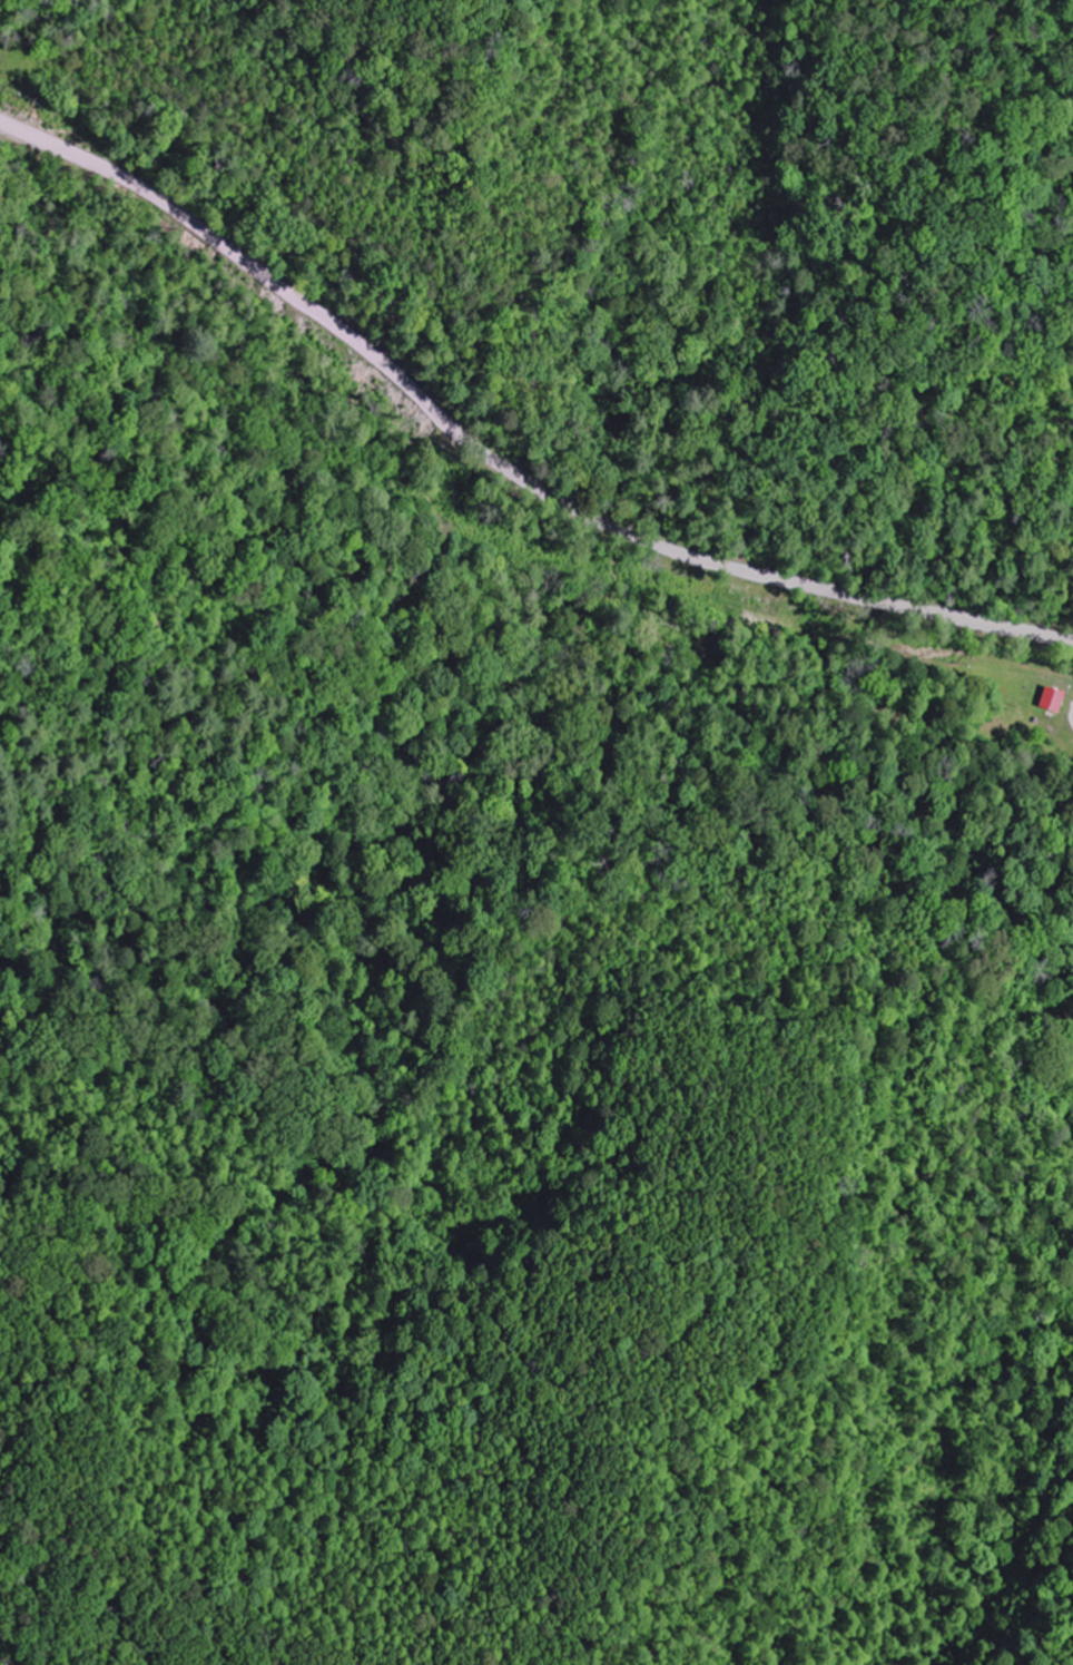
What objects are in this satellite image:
road: (498, 463)
road: (4, 1662)

